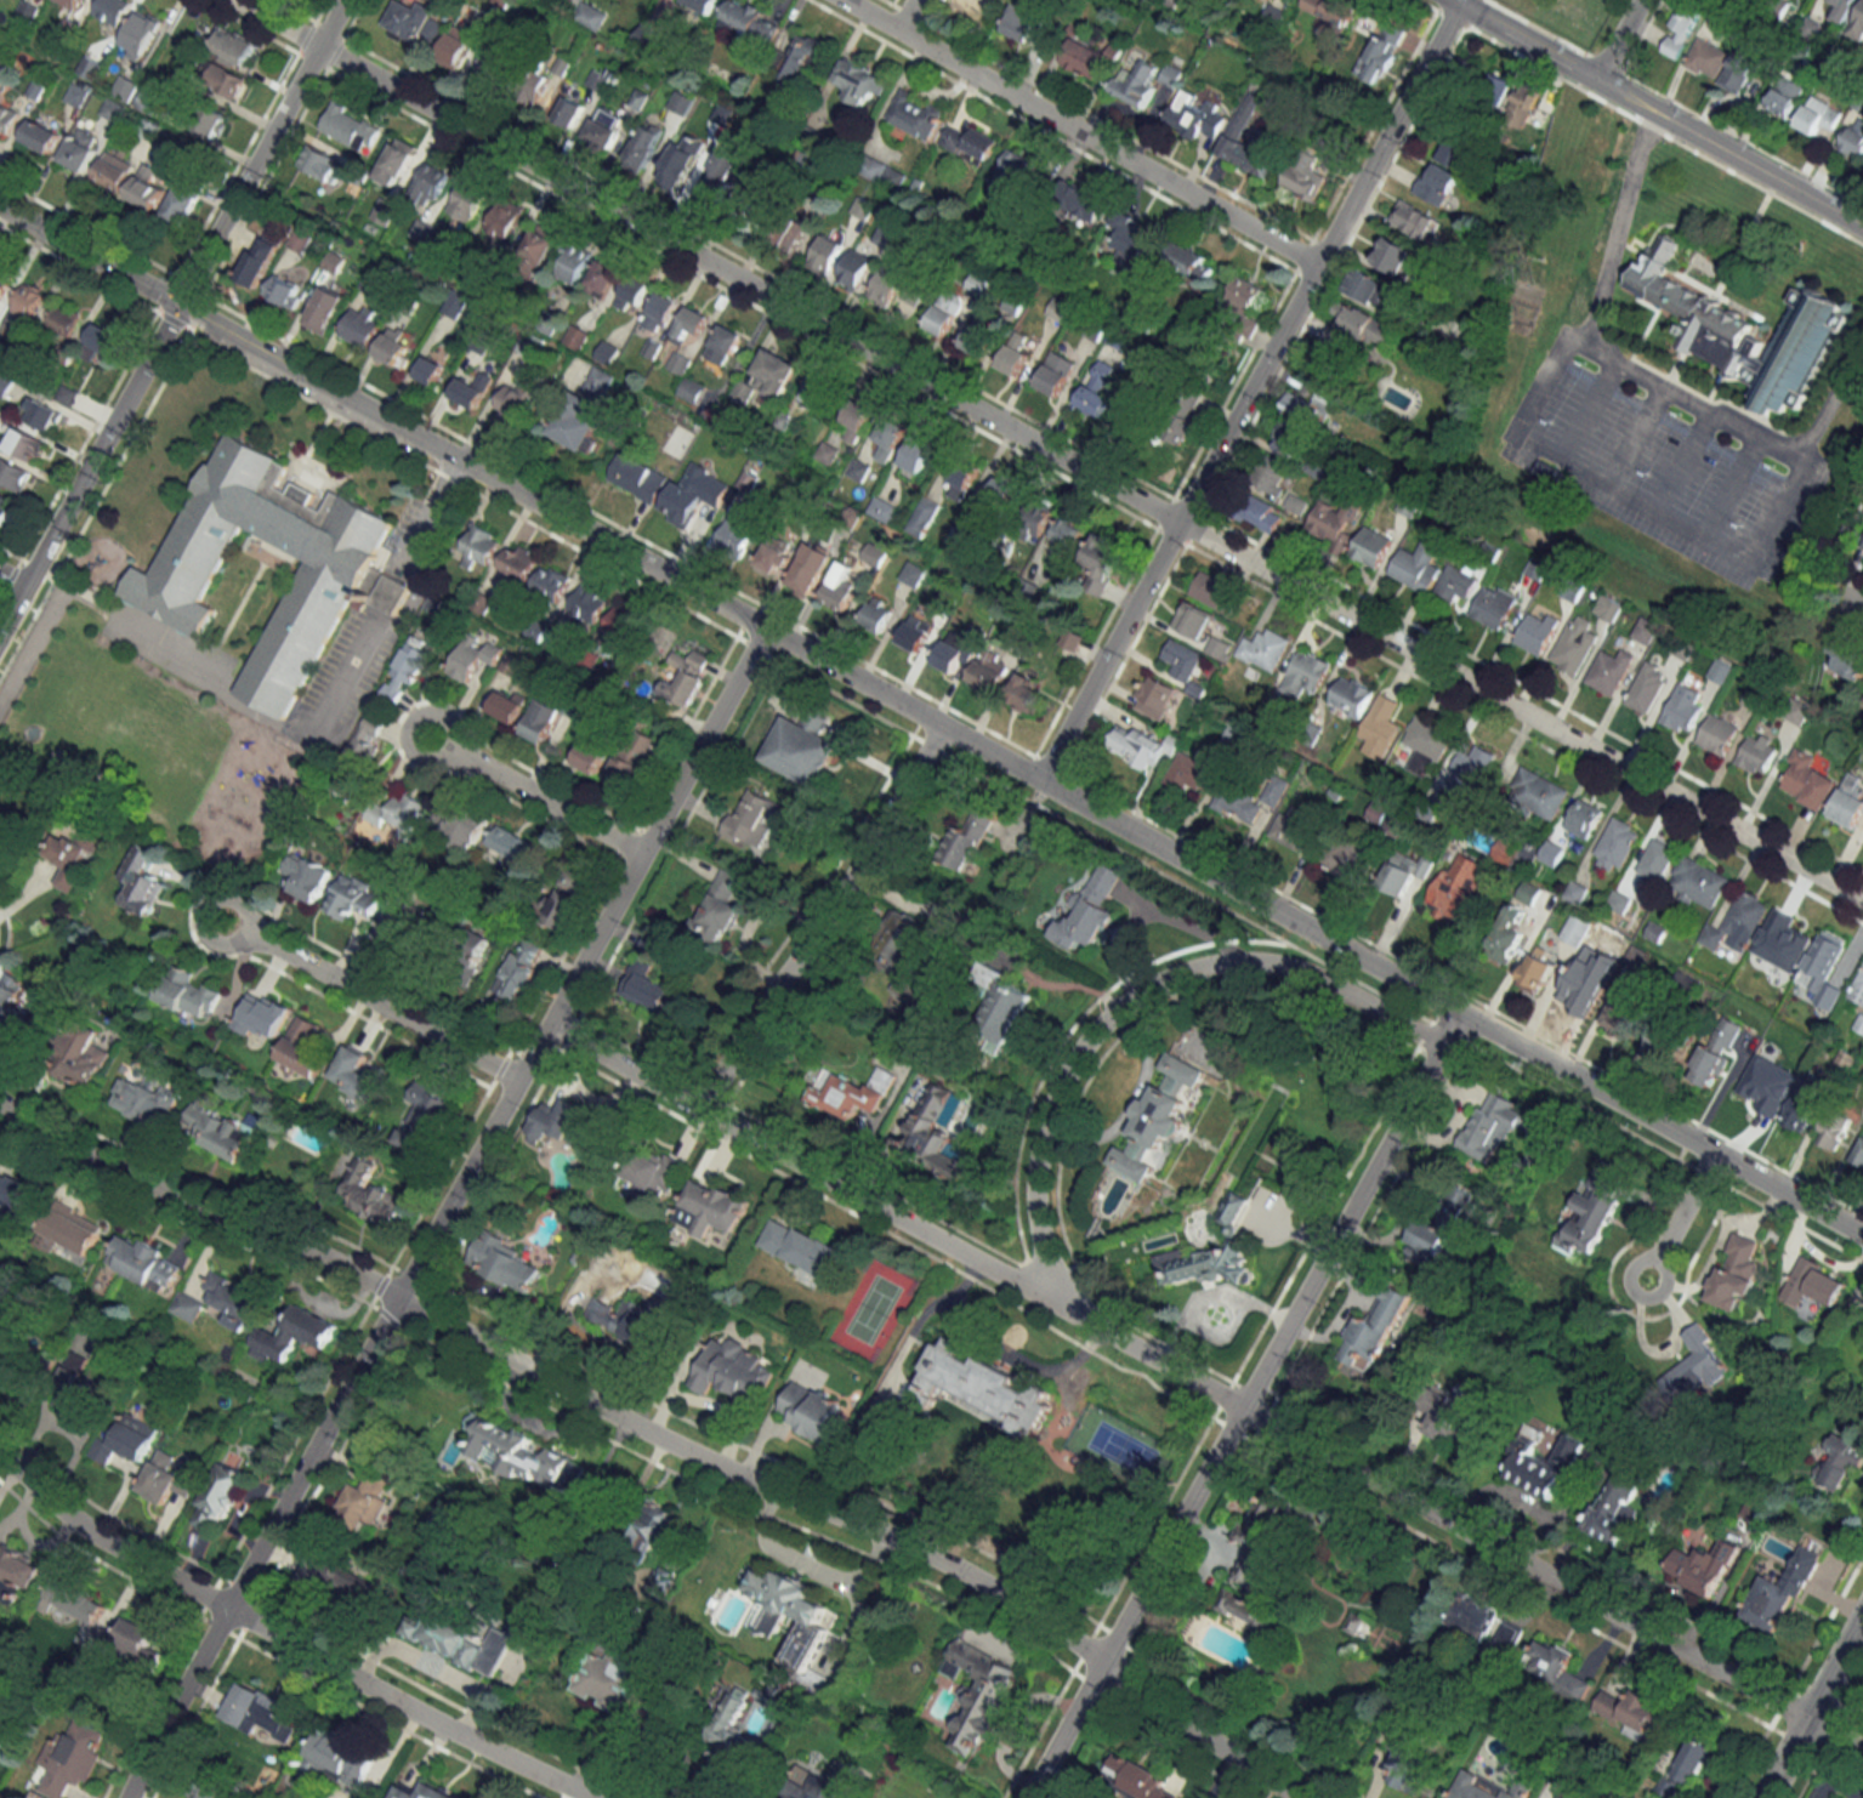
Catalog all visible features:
building: (441, 0)
building: (70, 2)
building: (1172, 2)
building: (702, 4)
building: (113, 10)
building: (1840, 10)
building: (27, 11)
building: (1330, 11)
road: (904, 15)
building: (590, 16)
park: (1567, 16)
building: (751, 19)
building: (413, 22)
building: (1857, 24)
building: (1030, 25)
building: (1680, 27)
building: (142, 35)
building: (648, 35)
road: (1523, 40)
road: (1615, 40)
building: (234, 45)
building: (456, 46)
building: (1381, 52)
building: (802, 56)
building: (1087, 58)
building: (1706, 58)
building: (496, 63)
building: (89, 67)
building: (1739, 69)
building: (222, 78)
building: (597, 80)
building: (860, 81)
building: (533, 85)
building: (1148, 86)
building: (125, 87)
building: (1493, 90)
building: (76, 93)
building: (1784, 96)
building: (148, 101)
building: (1521, 106)
building: (113, 109)
building: (569, 112)
building: (915, 114)
building: (1197, 115)
building: (1817, 115)
building: (7, 118)
building: (215, 123)
building: (350, 127)
building: (604, 129)
road: (1079, 131)
building: (1236, 133)
building: (41, 136)
building: (970, 143)
building: (642, 148)
building: (80, 149)
building: (1456, 153)
road: (1728, 154)
building: (393, 164)
building: (677, 167)
building: (113, 170)
building: (884, 172)
building: (720, 173)
building: (1015, 173)
building: (1302, 182)
building: (1436, 183)
building: (431, 184)
building: (147, 189)
building: (467, 200)
building: (182, 201)
building: (1083, 201)
building: (759, 204)
building: (505, 218)
building: (1415, 220)
road: (1613, 222)
building: (791, 231)
building: (1131, 238)
building: (299, 241)
building: (539, 243)
building: (828, 250)
building: (1393, 255)
building: (257, 260)
building: (1192, 261)
building: (573, 263)
building: (857, 264)
building: (602, 278)
building: (5, 279)
building: (886, 286)
building: (1369, 288)
building: (285, 291)
building: (632, 292)
building: (1245, 292)
building: (914, 294)
building: (29, 300)
building: (455, 303)
building: (325, 308)
building: (660, 312)
building: (947, 312)
road: (171, 315)
building: (64, 319)
building: (362, 325)
building: (1358, 329)
building: (1739, 329)
building: (576, 336)
building: (978, 337)
building: (727, 340)
building: (100, 341)
building: (397, 346)
building: (1015, 354)
building: (430, 370)
building: (1056, 371)
building: (774, 372)
building: (1339, 374)
building: (600, 382)
building: (5, 383)
building: (472, 388)
building: (691, 389)
building: (1097, 389)
road: (1833, 391)
building: (817, 392)
road: (1248, 392)
road: (1689, 396)
building: (518, 398)
road: (1581, 405)
building: (1310, 406)
building: (1136, 411)
building: (42, 414)
building: (857, 420)
building: (575, 422)
road: (1632, 432)
building: (890, 438)
building: (1289, 438)
building: (25, 444)
road: (1046, 450)
building: (827, 453)
building: (918, 453)
parking lot: (1658, 454)
road: (1680, 456)
building: (1318, 465)
building: (858, 470)
building: (15, 473)
building: (1271, 474)
building: (638, 477)
building: (961, 480)
road: (1731, 482)
building: (1000, 494)
building: (694, 495)
road: (1631, 497)
building: (5, 508)
building: (881, 508)
building: (1261, 513)
building: (922, 517)
building: (1035, 519)
building: (1333, 523)
building: (738, 530)
building: (1067, 531)
building: (479, 546)
building: (1370, 546)
building: (874, 554)
building: (1101, 554)
building: (774, 557)
building: (516, 565)
building: (1416, 565)
building: (1537, 569)
building: (913, 573)
building: (806, 574)
building: (342, 576)
road: (12, 579)
building: (551, 582)
building: (1455, 584)
building: (840, 587)
building: (1210, 588)
road: (1858, 596)
road: (414, 597)
building: (587, 605)
building: (1493, 605)
building: (877, 615)
building: (1192, 620)
building: (620, 622)
building: (538, 630)
building: (1645, 630)
building: (1537, 631)
building: (915, 632)
building: (555, 638)
building: (1072, 638)
building: (1574, 644)
building: (1217, 649)
building: (1263, 649)
building: (473, 655)
building: (1848, 658)
building: (1182, 659)
building: (407, 668)
building: (989, 670)
building: (1609, 671)
building: (1306, 673)
building: (687, 676)
building: (1646, 687)
building: (1351, 695)
building: (1030, 696)
building: (1153, 696)
building: (1753, 698)
building: (507, 704)
building: (1683, 709)
building: (541, 719)
road: (931, 721)
building: (1380, 723)
building: (1717, 734)
building: (1426, 745)
building: (1138, 746)
building: (801, 747)
building: (592, 752)
building: (1756, 753)
building: (631, 756)
building: (1470, 769)
building: (1807, 780)
building: (1538, 792)
road: (535, 793)
building: (1249, 800)
building: (1848, 802)
building: (407, 807)
building: (1386, 817)
building: (751, 818)
building: (1584, 818)
building: (465, 829)
building: (1295, 829)
building: (965, 840)
building: (1617, 843)
building: (1505, 849)
building: (1346, 854)
building: (73, 857)
building: (1657, 860)
building: (1405, 871)
building: (307, 876)
building: (142, 881)
building: (1698, 882)
building: (1456, 887)
building: (1529, 893)
building: (346, 897)
building: (564, 899)
building: (720, 906)
building: (1089, 911)
road: (1152, 916)
road: (823, 920)
building: (401, 922)
road: (751, 923)
building: (1734, 924)
building: (1575, 929)
building: (1788, 933)
building: (1506, 935)
building: (901, 945)
building: (468, 950)
building: (1772, 967)
building: (519, 969)
building: (1537, 971)
building: (1685, 984)
building: (648, 988)
building: (1858, 989)
building: (188, 992)
road: (367, 1000)
building: (13, 1007)
building: (1807, 1009)
road: (1124, 1011)
building: (262, 1015)
building: (1621, 1015)
building: (1001, 1018)
building: (1664, 1036)
building: (302, 1047)
building: (1716, 1051)
building: (80, 1056)
building: (353, 1071)
building: (852, 1092)
building: (1773, 1098)
building: (147, 1103)
road: (1128, 1109)
building: (1799, 1109)
building: (424, 1116)
building: (1157, 1119)
building: (560, 1121)
building: (1489, 1126)
building: (1834, 1130)
building: (223, 1131)
building: (935, 1134)
building: (1858, 1154)
building: (654, 1174)
building: (17, 1194)
building: (371, 1194)
building: (710, 1207)
road: (444, 1212)
road: (1681, 1214)
building: (1591, 1219)
building: (1442, 1222)
building: (67, 1231)
building: (799, 1246)
building: (144, 1263)
building: (506, 1263)
building: (1202, 1264)
building: (1736, 1271)
building: (1813, 1284)
building: (232, 1299)
building: (187, 1305)
building: (625, 1319)
building: (1374, 1331)
building: (294, 1333)
road: (1006, 1349)
building: (1697, 1364)
building: (17, 1365)
building: (734, 1370)
road: (1205, 1387)
building: (989, 1388)
building: (78, 1392)
road: (1242, 1405)
building: (814, 1413)
building: (1442, 1415)
road: (657, 1435)
building: (126, 1440)
building: (524, 1457)
building: (1543, 1462)
building: (1839, 1462)
building: (165, 1479)
building: (220, 1497)
building: (367, 1498)
building: (1614, 1508)
building: (644, 1526)
building: (0, 1527)
building: (1261, 1544)
road: (807, 1563)
building: (1704, 1566)
building: (17, 1569)
building: (334, 1580)
building: (72, 1599)
building: (1772, 1599)
building: (1243, 1610)
building: (788, 1611)
building: (1471, 1616)
building: (137, 1639)
building: (1506, 1639)
road: (283, 1640)
building: (475, 1646)
building: (1555, 1667)
building: (610, 1679)
building: (981, 1692)
road: (1812, 1706)
building: (257, 1709)
building: (1631, 1711)
building: (729, 1729)
building: (70, 1758)
building: (339, 1759)
building: (1687, 1765)
building: (1418, 1770)
road: (1844, 1775)
building: (1135, 1777)
building: (825, 1783)
building: (1488, 1787)
building: (201, 1791)
building: (425, 1792)
building: (1567, 1794)

